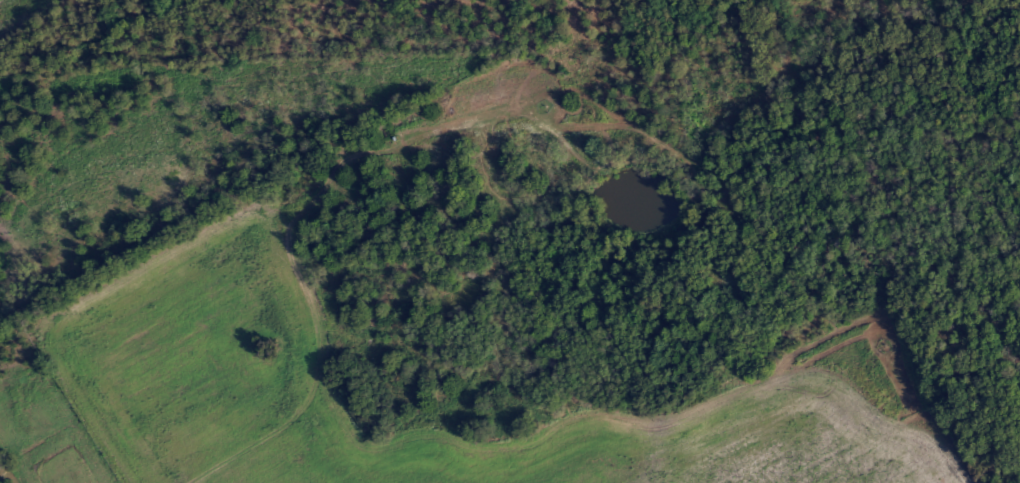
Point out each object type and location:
park: (6, 470)

